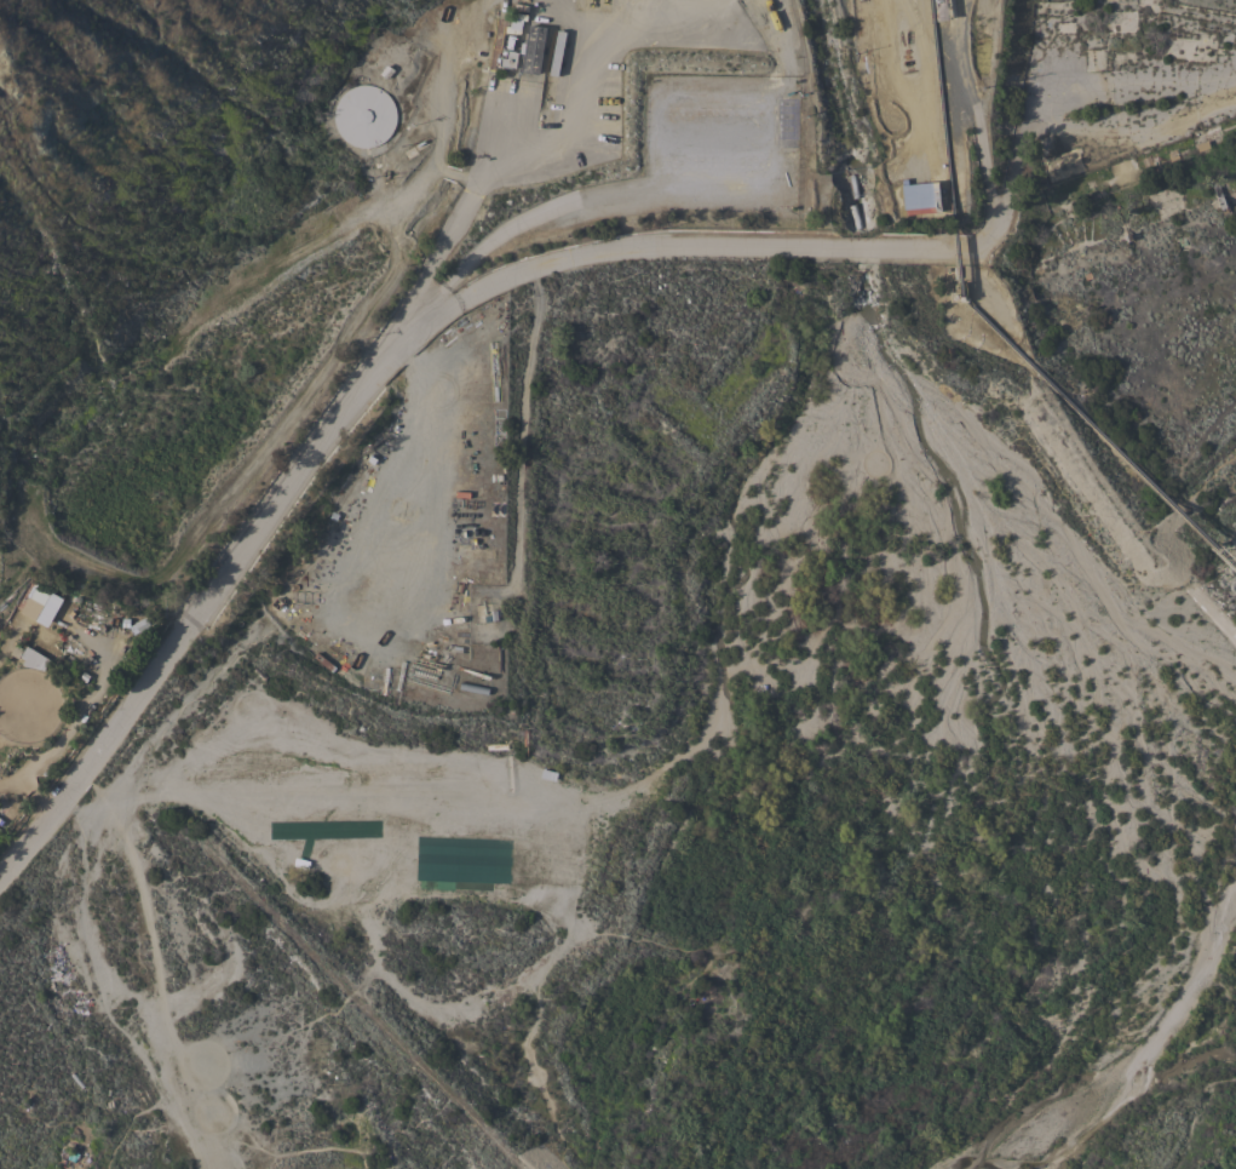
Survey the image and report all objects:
building: (1094, 5)
building: (1152, 7)
building: (1200, 15)
building: (1121, 23)
building: (1064, 27)
building: (1093, 41)
building: (1185, 48)
building: (528, 57)
building: (507, 59)
road: (977, 114)
building: (363, 115)
storage tank: (362, 116)
road: (563, 125)
road: (787, 144)
parking lot: (734, 148)
building: (1063, 164)
building: (1123, 171)
road: (502, 230)
road: (862, 247)
quarry: (254, 314)
road: (399, 320)
road: (418, 411)
building: (31, 598)
road: (203, 598)
building: (33, 658)
road: (69, 809)
river: (1127, 1044)

